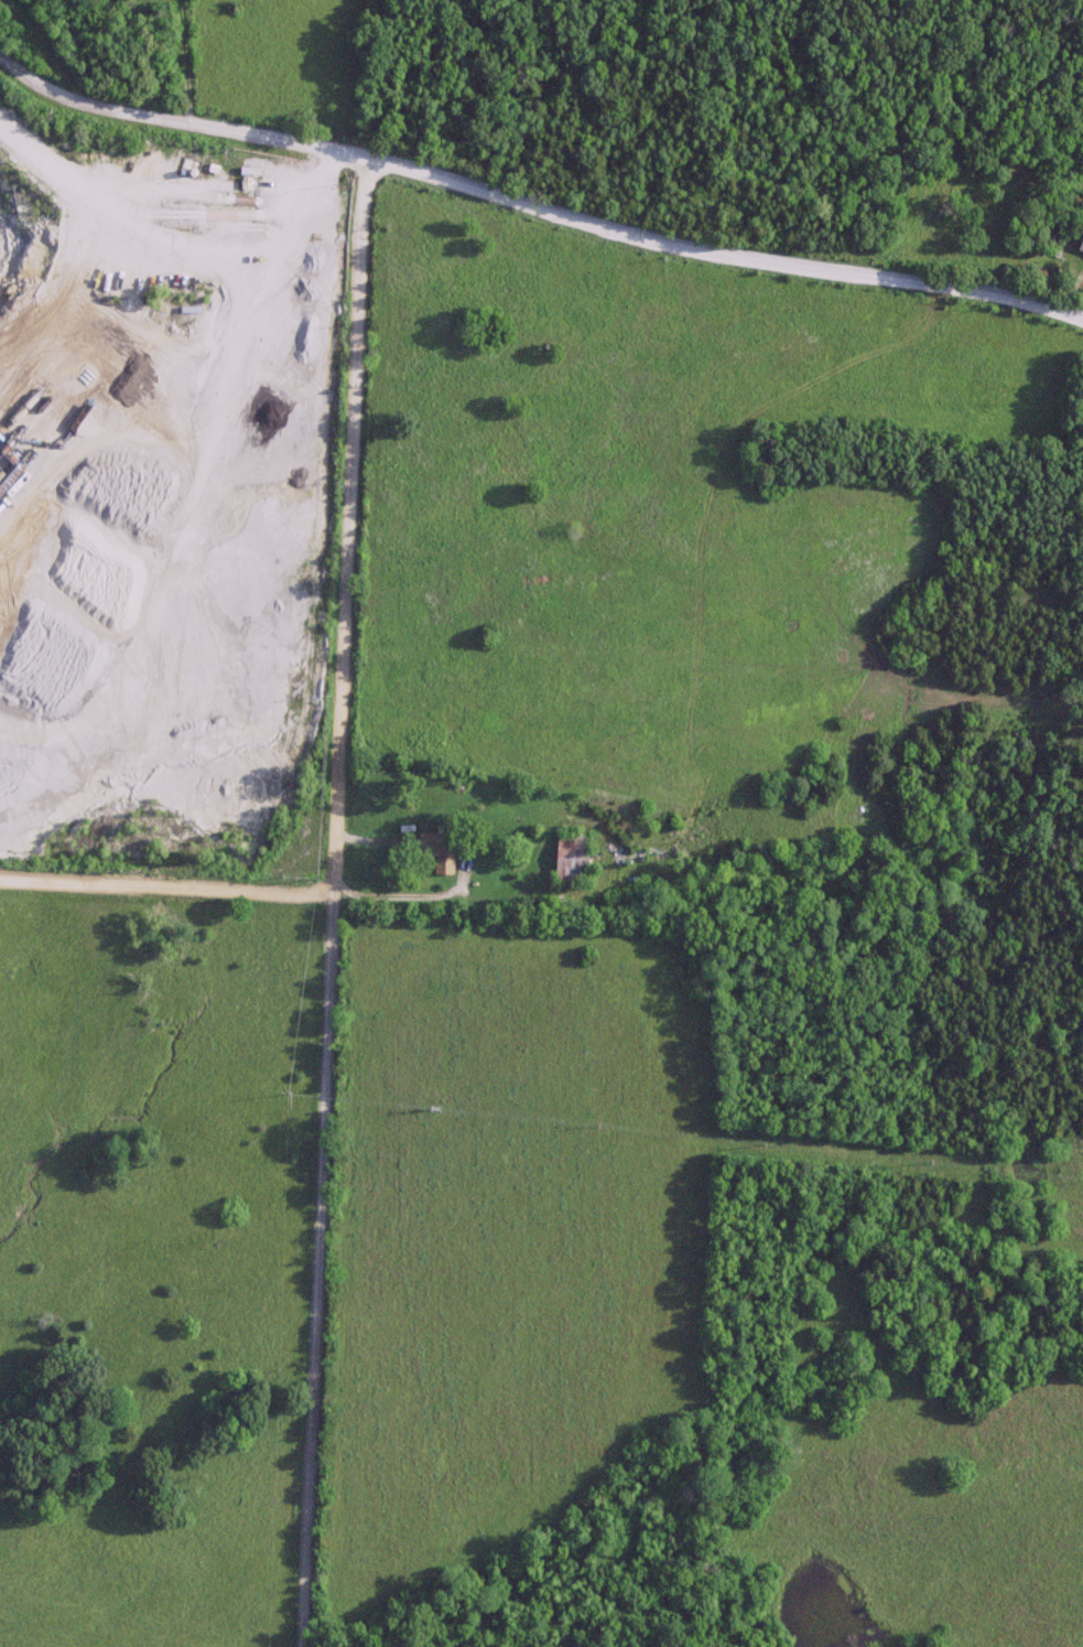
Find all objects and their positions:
road: (533, 207)
building: (1079, 243)
building: (435, 849)
building: (568, 857)
road: (165, 883)
road: (396, 897)
road: (331, 905)

